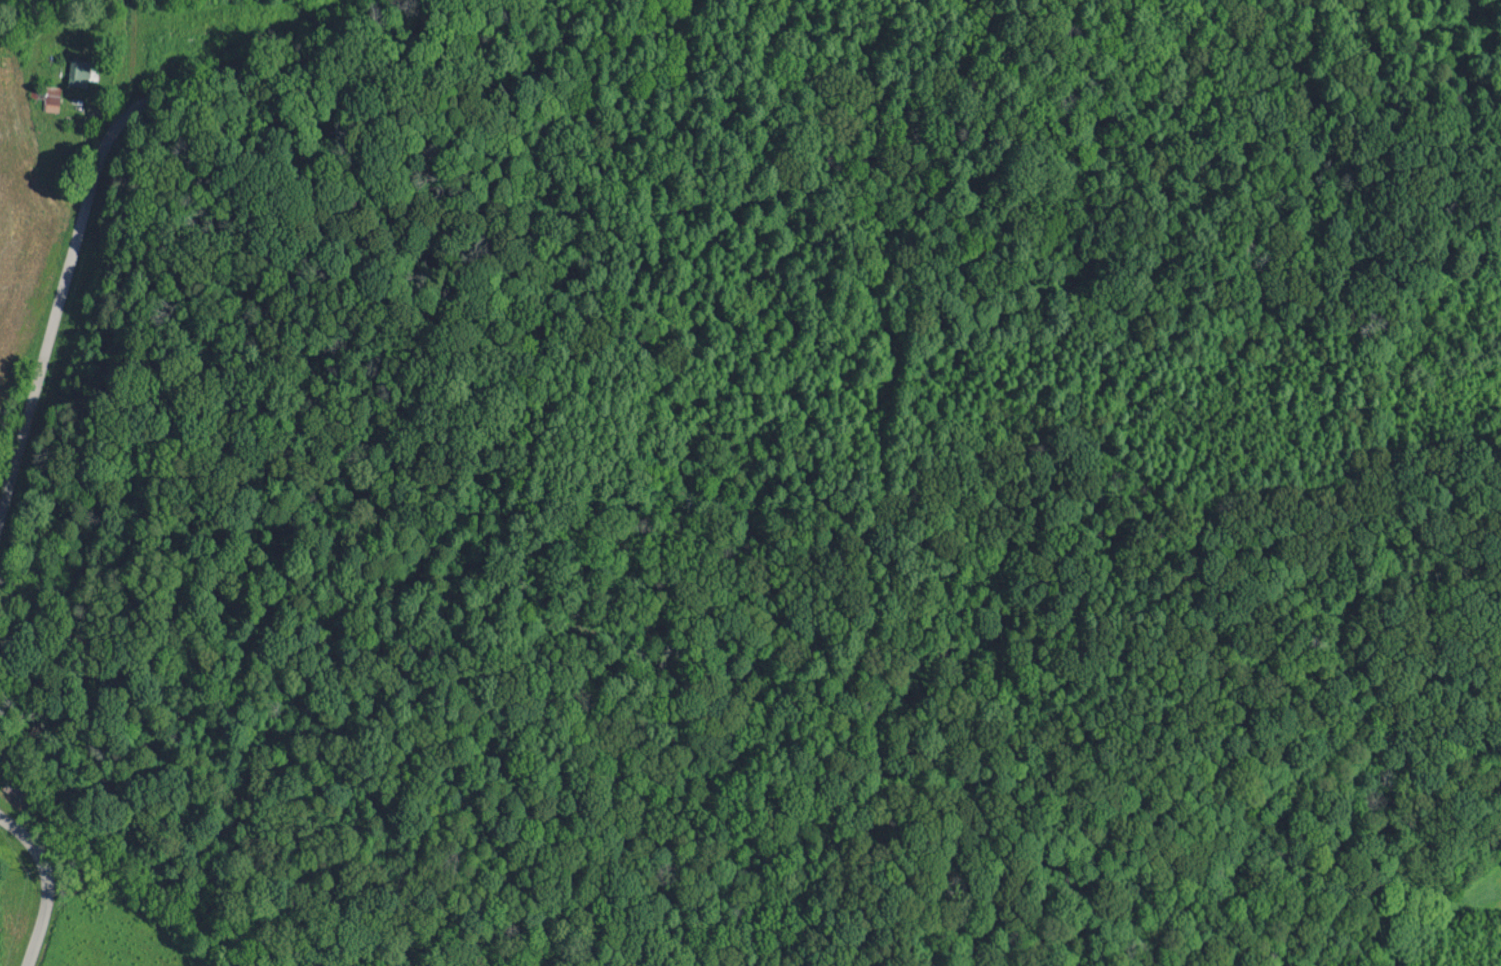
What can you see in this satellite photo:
building: (56, 97)
road: (96, 156)
road: (46, 883)

